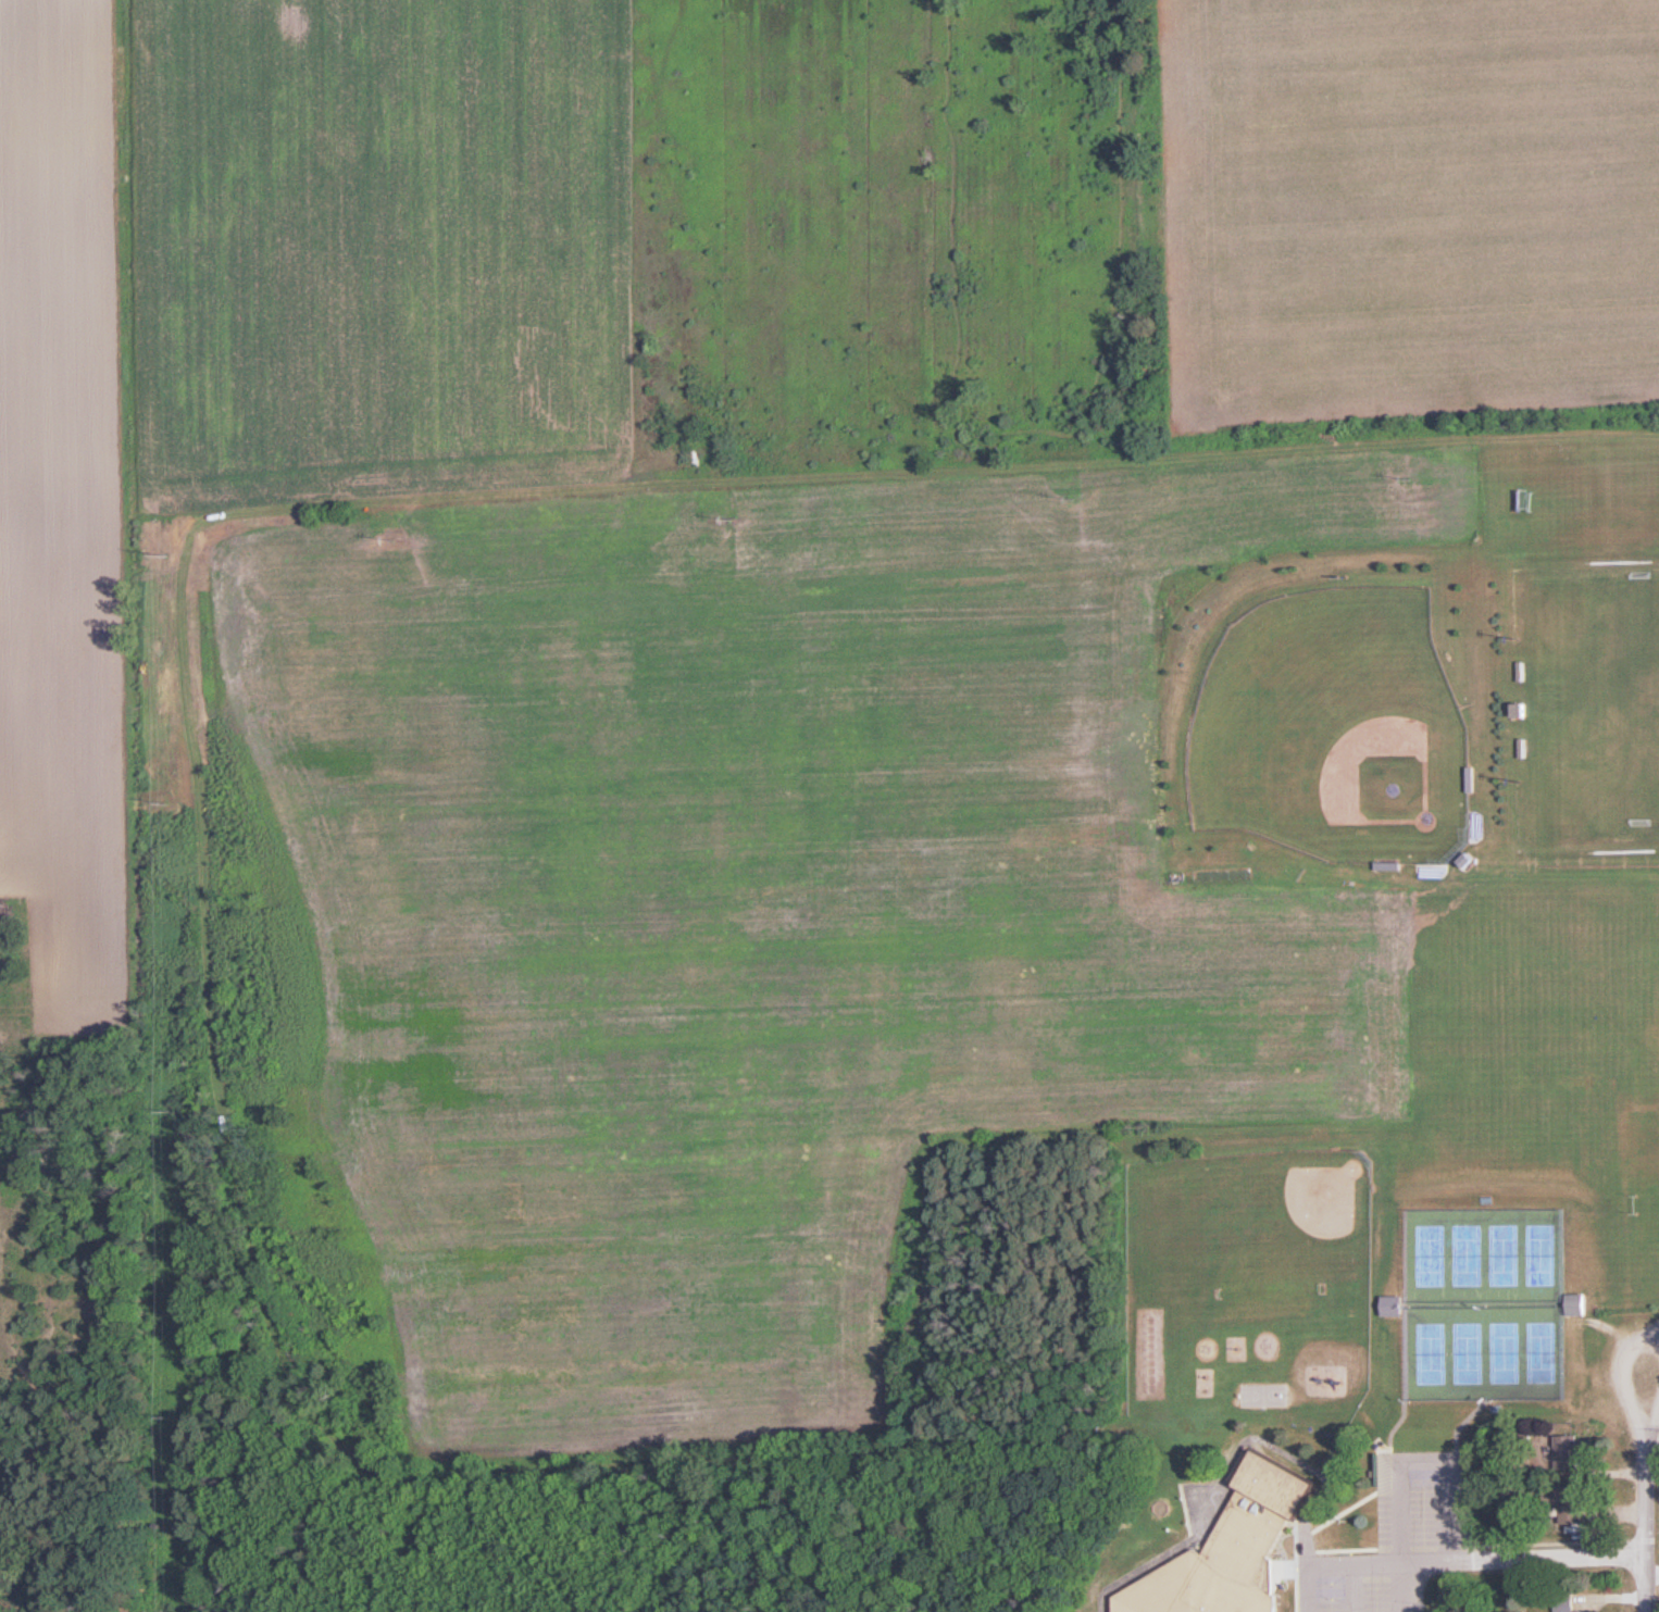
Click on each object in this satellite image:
park: (1582, 691)
park: (1317, 709)
park: (1271, 1208)
park: (1523, 1237)
park: (1412, 1238)
park: (1449, 1239)
park: (1485, 1239)
building: (1576, 1303)
building: (1394, 1304)
park: (1523, 1335)
park: (1411, 1337)
park: (1450, 1337)
park: (1487, 1337)
building: (1568, 1453)
road: (1643, 1459)
building: (1566, 1505)
building: (1233, 1549)
road: (1536, 1560)
building: (1566, 1602)

